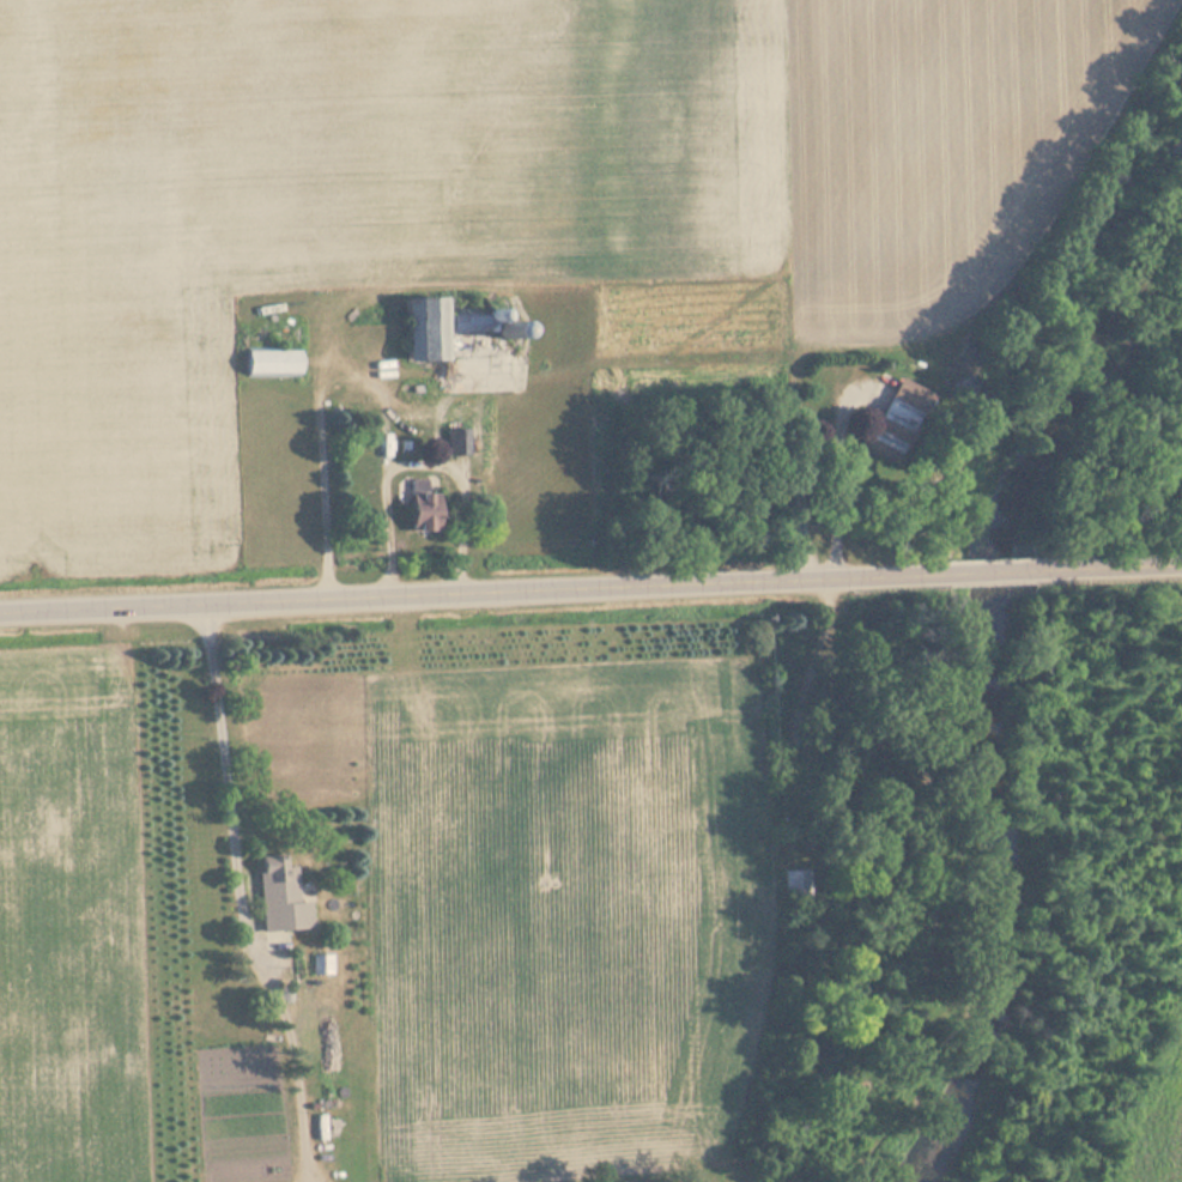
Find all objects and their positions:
building: (473, 325)
building: (426, 331)
building: (274, 364)
building: (899, 422)
building: (425, 513)
road: (1120, 566)
road: (1005, 570)
road: (475, 590)
river: (980, 687)
building: (796, 887)
building: (283, 898)

